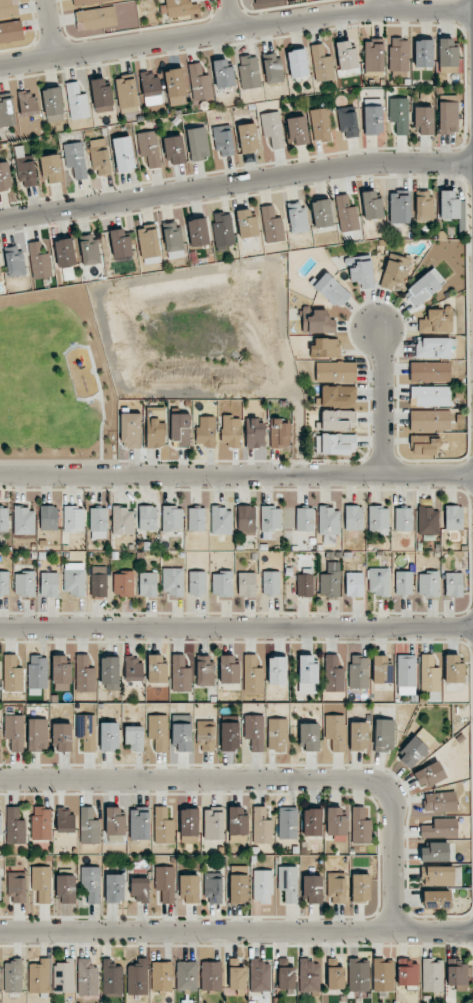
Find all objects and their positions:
building: (268, 1)
building: (87, 2)
road: (387, 5)
building: (179, 7)
building: (8, 8)
road: (226, 15)
building: (96, 18)
road: (235, 28)
road: (46, 29)
building: (11, 31)
building: (423, 53)
building: (346, 55)
building: (373, 55)
building: (399, 55)
building: (447, 56)
building: (297, 63)
building: (321, 64)
building: (272, 69)
building: (249, 72)
building: (223, 74)
building: (199, 83)
building: (175, 87)
building: (150, 88)
building: (126, 94)
building: (102, 95)
building: (27, 102)
building: (77, 102)
building: (53, 104)
building: (6, 111)
building: (399, 114)
building: (372, 117)
building: (447, 118)
building: (424, 120)
building: (347, 121)
building: (321, 124)
building: (272, 128)
building: (297, 130)
building: (248, 138)
building: (223, 140)
building: (197, 144)
building: (149, 148)
building: (175, 150)
building: (123, 154)
building: (100, 157)
building: (75, 159)
building: (52, 168)
building: (26, 171)
building: (5, 176)
road: (236, 186)
building: (448, 204)
building: (371, 205)
building: (424, 206)
building: (399, 208)
building: (321, 213)
building: (346, 214)
building: (297, 218)
building: (246, 223)
building: (271, 225)
building: (223, 230)
building: (197, 232)
building: (173, 240)
building: (148, 242)
building: (120, 244)
building: (89, 249)
building: (64, 252)
building: (14, 261)
building: (39, 261)
building: (361, 272)
building: (394, 272)
building: (0, 280)
building: (424, 288)
building: (332, 290)
building: (436, 321)
building: (317, 322)
building: (325, 347)
building: (434, 348)
building: (335, 371)
building: (429, 371)
park: (54, 381)
building: (338, 395)
building: (429, 396)
road: (383, 400)
building: (338, 420)
building: (429, 420)
building: (180, 428)
building: (230, 430)
building: (130, 431)
building: (205, 431)
building: (254, 433)
building: (155, 434)
building: (279, 434)
building: (335, 444)
building: (424, 445)
road: (236, 474)
building: (49, 517)
building: (147, 517)
building: (353, 517)
building: (453, 517)
building: (73, 518)
building: (172, 518)
building: (4, 519)
building: (196, 519)
building: (246, 519)
building: (304, 519)
building: (403, 519)
building: (270, 520)
building: (378, 520)
building: (24, 521)
building: (122, 521)
building: (221, 521)
building: (428, 521)
building: (98, 524)
building: (328, 525)
building: (74, 578)
building: (99, 581)
building: (172, 581)
building: (379, 581)
building: (305, 582)
building: (4, 583)
building: (24, 583)
building: (123, 583)
building: (197, 583)
building: (222, 583)
building: (271, 583)
building: (329, 583)
building: (403, 583)
building: (428, 583)
building: (49, 584)
building: (148, 584)
building: (246, 584)
building: (354, 584)
building: (453, 584)
road: (236, 628)
building: (132, 668)
building: (156, 669)
building: (453, 669)
building: (204, 670)
building: (229, 670)
building: (277, 670)
building: (381, 670)
building: (358, 672)
building: (61, 673)
building: (110, 673)
building: (12, 674)
building: (37, 674)
building: (84, 674)
building: (180, 674)
building: (333, 674)
building: (406, 674)
building: (429, 674)
building: (252, 675)
building: (307, 675)
building: (86, 731)
building: (254, 731)
building: (14, 732)
building: (158, 732)
building: (181, 732)
building: (335, 732)
building: (277, 734)
building: (37, 735)
building: (206, 735)
building: (383, 735)
building: (109, 736)
building: (229, 736)
building: (309, 736)
building: (358, 736)
building: (61, 737)
building: (134, 738)
building: (415, 748)
building: (430, 774)
road: (266, 780)
building: (439, 802)
building: (65, 819)
building: (114, 821)
building: (335, 821)
building: (287, 822)
building: (312, 822)
building: (41, 823)
building: (237, 823)
building: (139, 824)
building: (0, 825)
building: (189, 825)
building: (213, 825)
building: (15, 826)
building: (88, 826)
building: (163, 826)
building: (261, 826)
building: (360, 826)
building: (440, 828)
building: (435, 852)
building: (437, 875)
building: (42, 883)
building: (91, 883)
building: (165, 883)
building: (288, 883)
building: (239, 885)
building: (262, 886)
building: (17, 887)
building: (336, 887)
building: (360, 887)
building: (66, 888)
building: (114, 888)
building: (189, 888)
building: (213, 888)
building: (312, 888)
building: (0, 889)
building: (140, 890)
building: (436, 899)
road: (236, 932)
building: (407, 972)
building: (236, 973)
building: (286, 973)
building: (456, 973)
building: (334, 974)
building: (358, 974)
building: (211, 975)
building: (259, 975)
building: (383, 975)
building: (432, 975)
building: (13, 976)
building: (39, 976)
building: (64, 976)
building: (162, 976)
building: (186, 976)
building: (137, 977)
building: (309, 977)
building: (87, 978)
building: (111, 979)
building: (0, 990)

